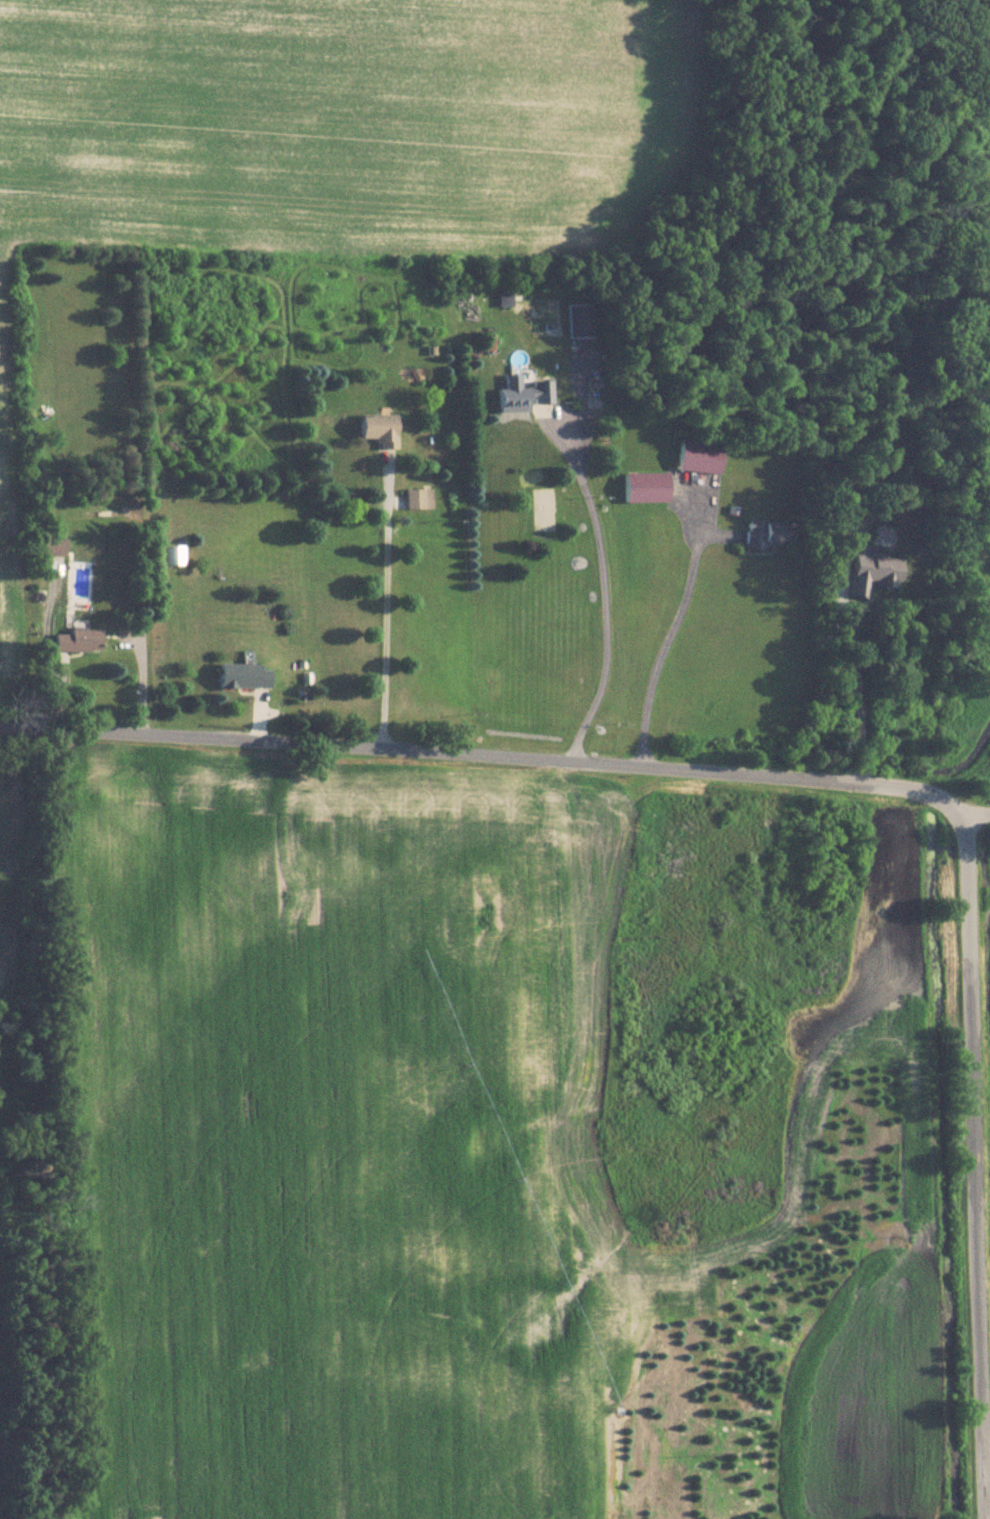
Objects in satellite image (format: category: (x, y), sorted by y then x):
building: (502, 297)
building: (576, 320)
building: (522, 393)
building: (378, 429)
building: (698, 456)
building: (644, 486)
building: (418, 497)
building: (764, 534)
building: (53, 547)
building: (173, 555)
building: (870, 573)
road: (606, 593)
road: (386, 606)
building: (75, 639)
road: (661, 643)
building: (241, 674)
road: (859, 678)
road: (483, 756)
road: (977, 809)
road: (973, 1163)

